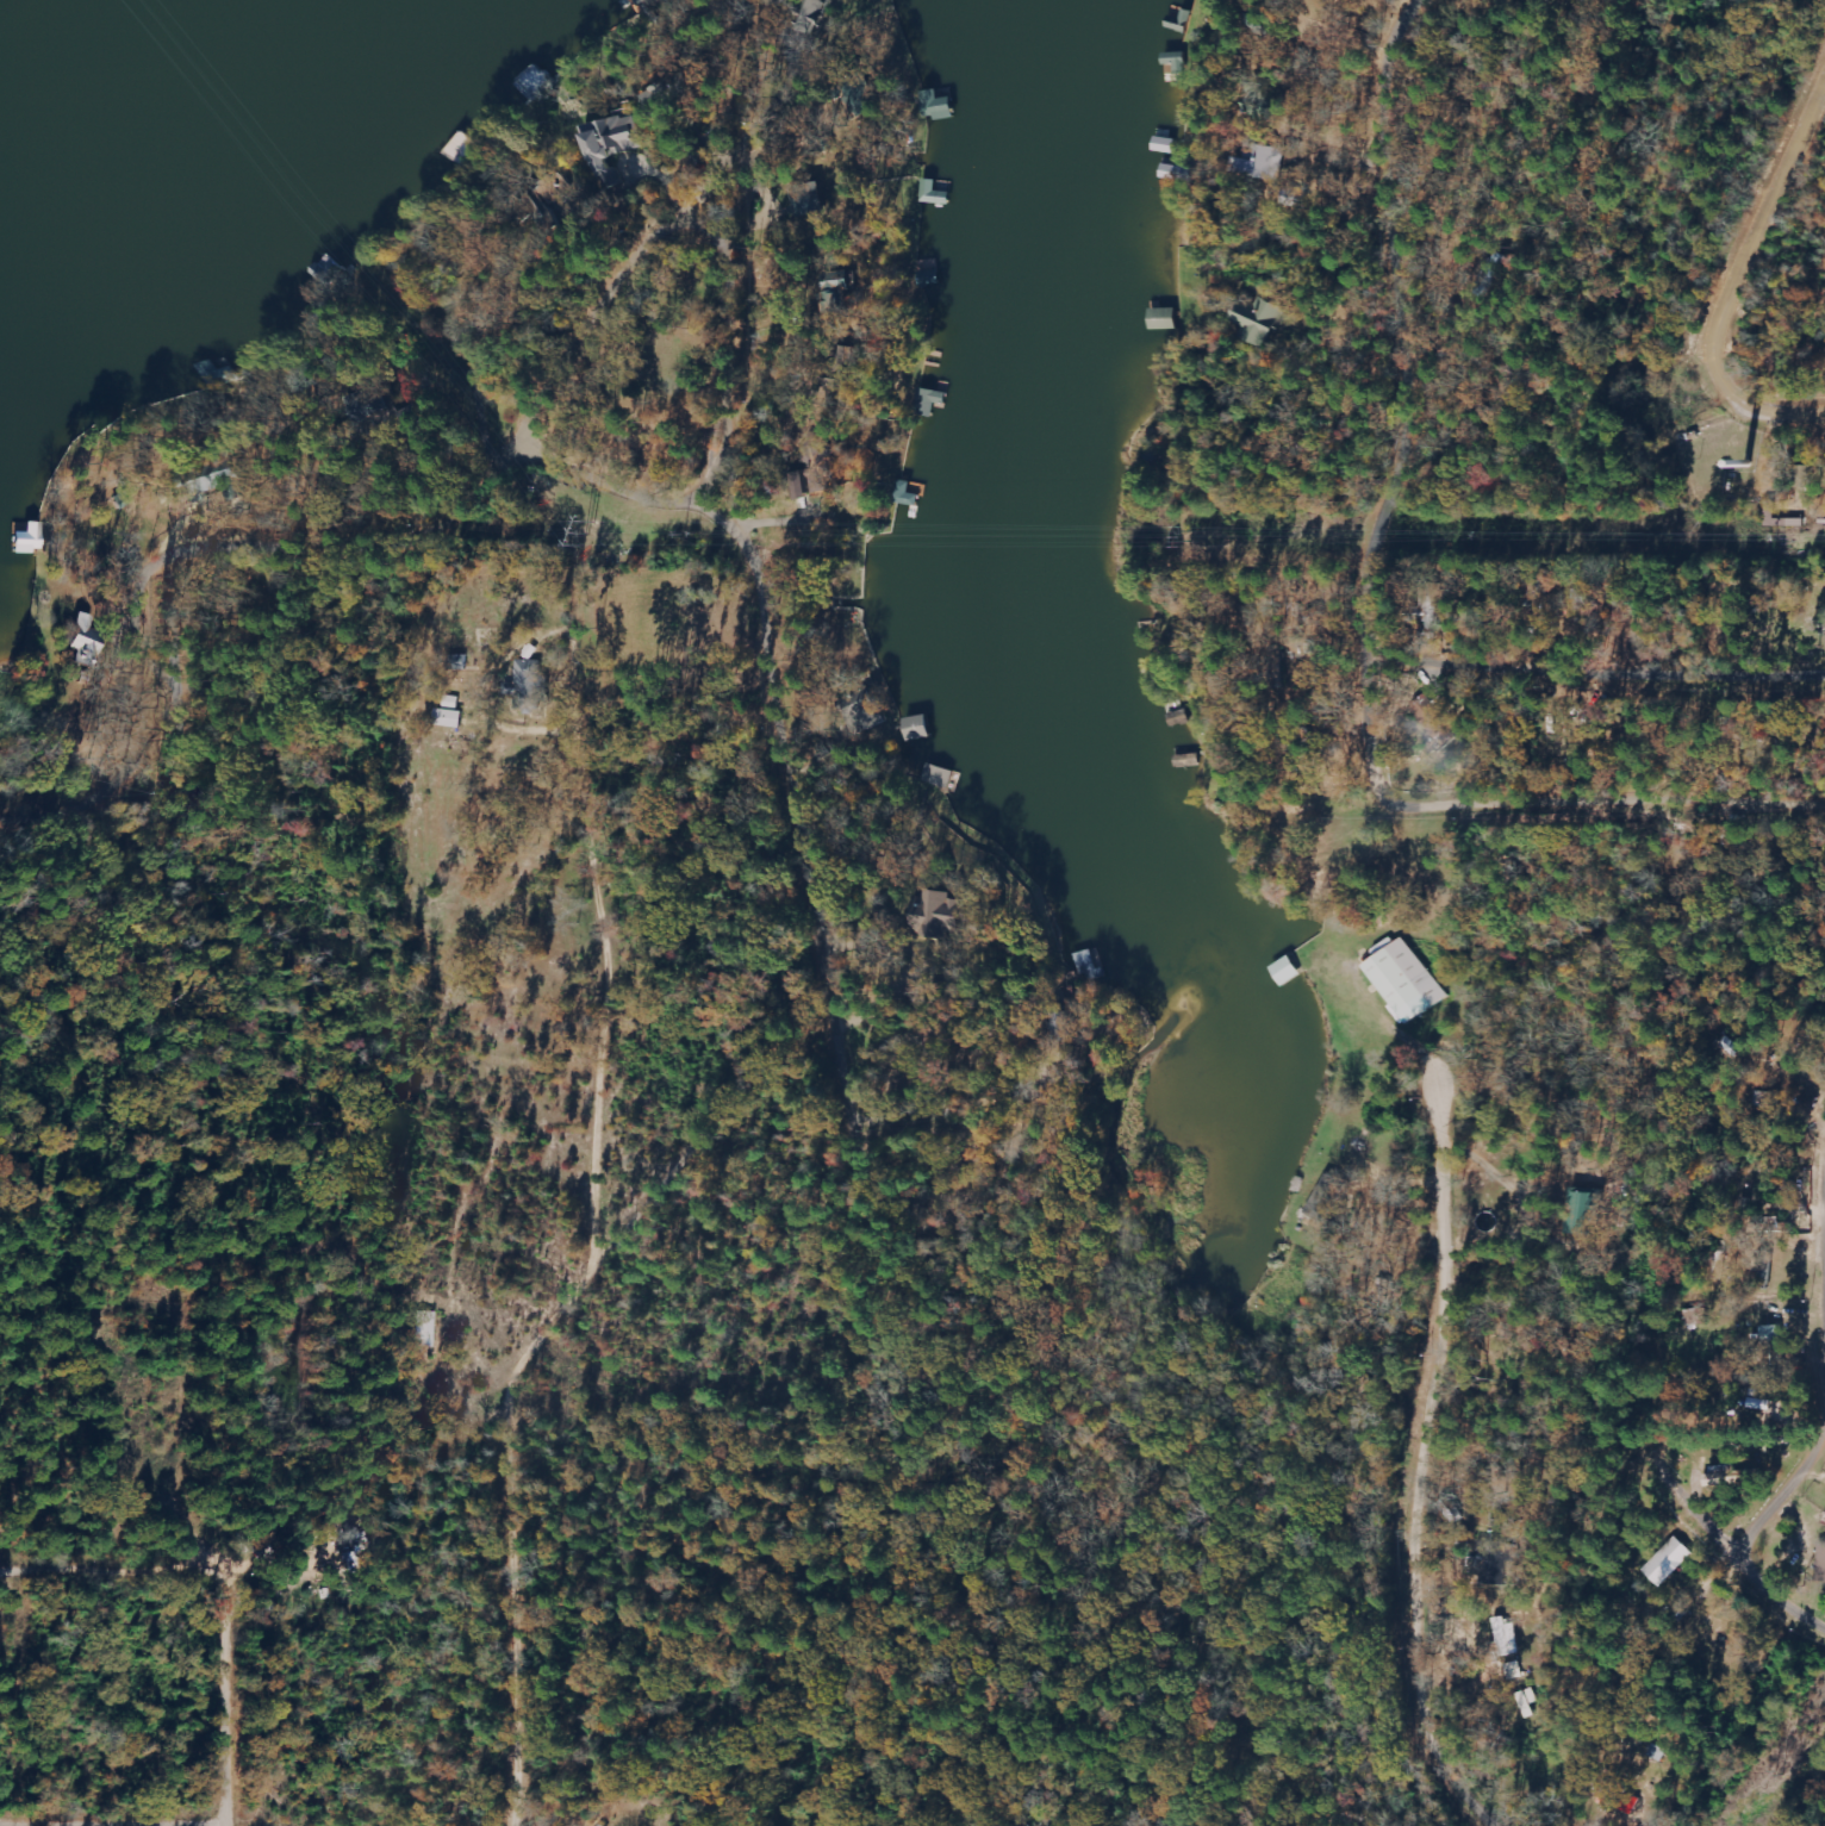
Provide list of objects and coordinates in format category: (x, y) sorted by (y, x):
building: (649, 2)
building: (938, 107)
building: (611, 148)
building: (1254, 163)
road: (1366, 204)
road: (1759, 281)
building: (1252, 320)
road: (1395, 325)
road: (756, 348)
building: (205, 375)
road: (329, 465)
building: (911, 499)
building: (93, 641)
road: (1600, 677)
building: (530, 684)
building: (1431, 717)
building: (917, 728)
road: (575, 753)
road: (74, 754)
road: (791, 784)
road: (1539, 806)
building: (941, 914)
building: (1403, 981)
road: (704, 1138)
road: (1495, 1173)
building: (1325, 1197)
building: (1580, 1209)
road: (132, 1313)
building: (424, 1329)
building: (1770, 1335)
road: (1431, 1463)
road: (1788, 1507)
road: (1736, 1544)
road: (510, 1551)
building: (1669, 1562)
road: (285, 1569)
road: (112, 1572)
building: (1824, 1576)
building: (1507, 1638)
road: (225, 1700)
power tower: (1779, 1776)

